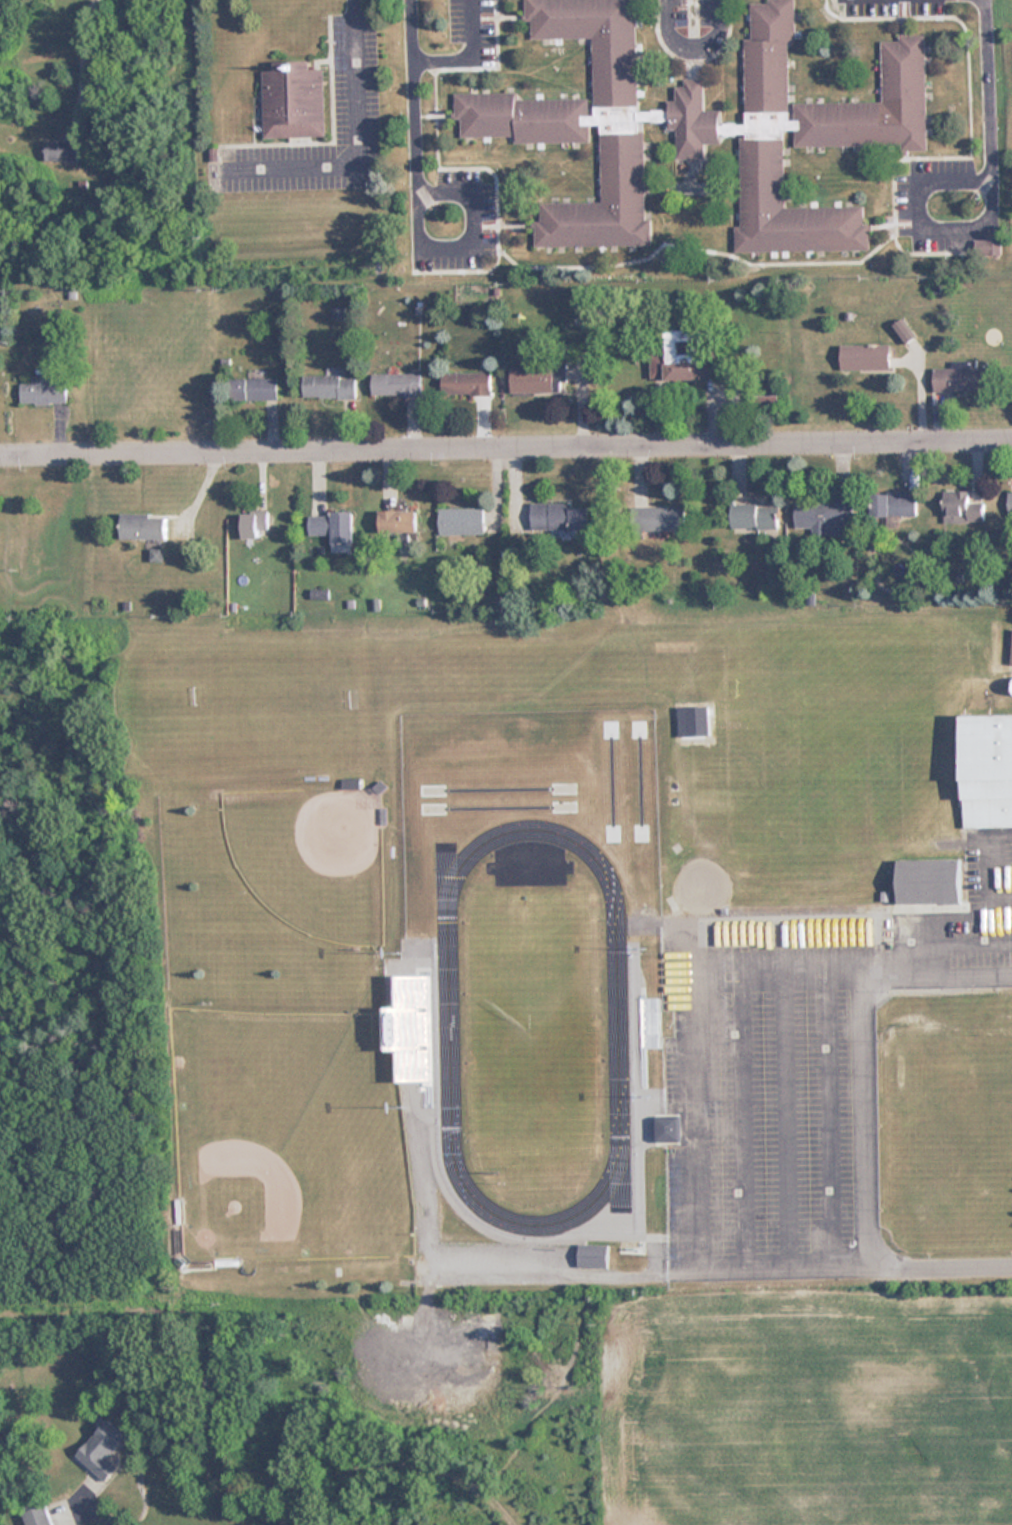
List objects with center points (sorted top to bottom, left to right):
road: (691, 38)
road: (458, 43)
road: (986, 87)
road: (410, 90)
building: (294, 101)
building: (580, 122)
building: (800, 133)
road: (356, 141)
building: (61, 151)
road: (466, 226)
road: (921, 228)
building: (990, 244)
building: (689, 356)
building: (866, 357)
building: (657, 365)
building: (536, 380)
building: (959, 380)
building: (467, 384)
building: (396, 385)
building: (329, 387)
building: (255, 389)
building: (43, 392)
road: (506, 449)
building: (894, 503)
building: (1010, 503)
building: (962, 508)
building: (825, 516)
building: (562, 517)
building: (755, 517)
building: (660, 519)
building: (398, 521)
building: (462, 521)
building: (254, 524)
building: (144, 526)
building: (332, 526)
building: (1011, 663)
building: (987, 770)
building: (351, 784)
park: (312, 858)
building: (930, 882)
building: (651, 999)
park: (528, 1025)
track: (616, 1025)
building: (424, 1029)
road: (861, 1047)
building: (667, 1128)
building: (593, 1255)
road: (844, 1265)
building: (102, 1450)
road: (402, 1466)
road: (97, 1505)
building: (38, 1516)

